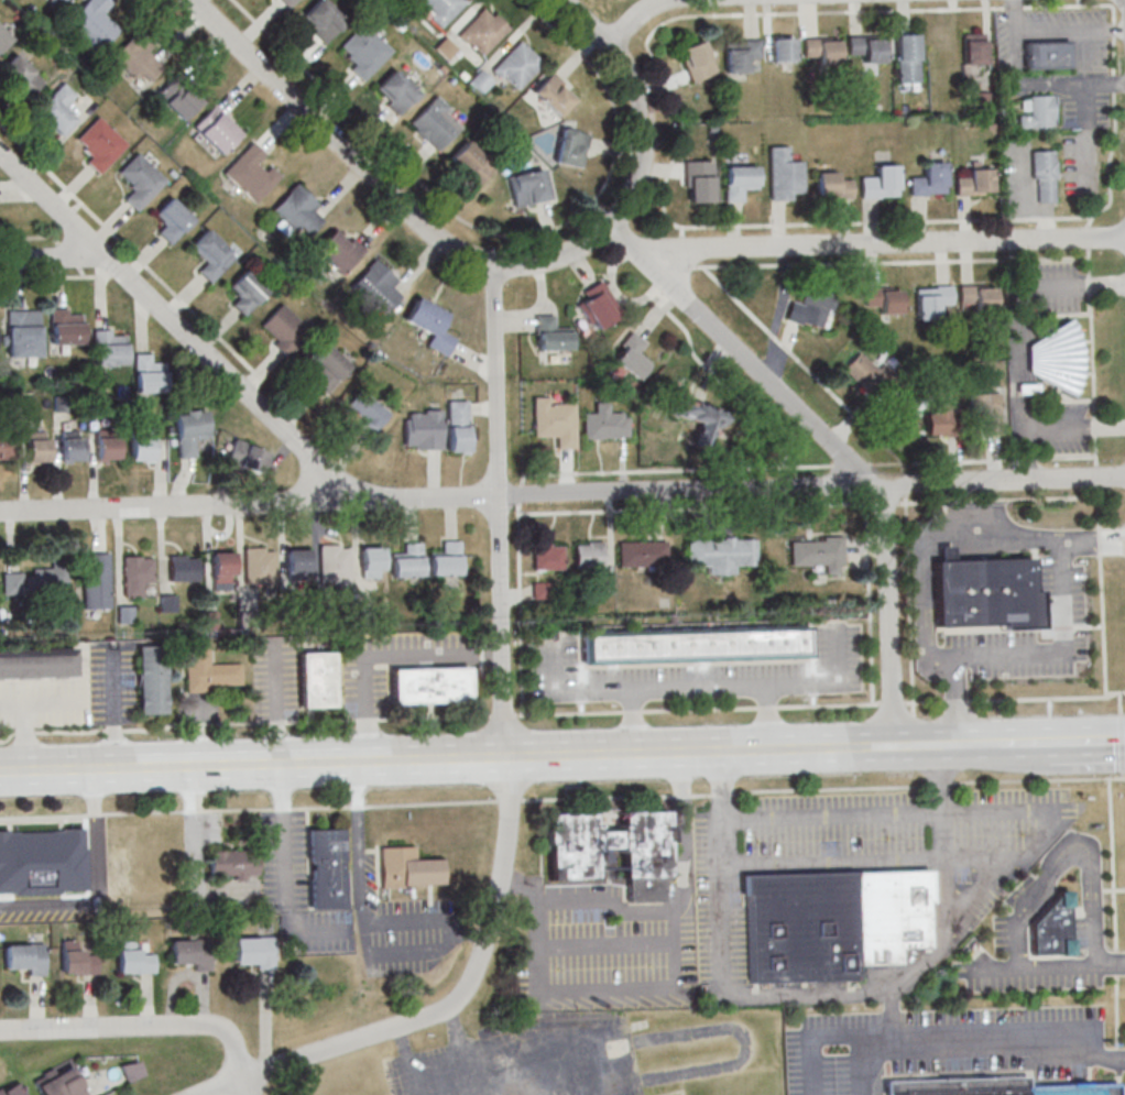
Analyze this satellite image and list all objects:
building: (62, 1)
building: (286, 2)
road: (1077, 4)
road: (1014, 7)
building: (440, 8)
road: (1013, 15)
road: (636, 17)
building: (321, 19)
building: (91, 24)
road: (1070, 29)
road: (1114, 29)
road: (555, 30)
building: (484, 33)
building: (3, 40)
building: (784, 48)
building: (865, 48)
building: (940, 48)
building: (973, 48)
building: (363, 50)
building: (821, 51)
building: (1047, 54)
road: (1114, 54)
building: (742, 55)
building: (907, 58)
building: (134, 59)
building: (698, 61)
building: (517, 66)
building: (20, 77)
building: (481, 80)
road: (1114, 81)
road: (1042, 85)
building: (395, 94)
building: (177, 96)
building: (555, 96)
road: (642, 103)
building: (55, 109)
building: (1036, 111)
road: (350, 114)
building: (434, 122)
building: (216, 130)
road: (1085, 136)
building: (101, 143)
building: (572, 147)
road: (670, 163)
road: (1108, 164)
building: (468, 166)
building: (784, 173)
building: (250, 174)
building: (1044, 176)
building: (139, 179)
building: (929, 179)
building: (699, 180)
building: (740, 182)
building: (881, 183)
building: (975, 183)
road: (381, 184)
building: (832, 185)
building: (528, 187)
building: (299, 208)
building: (171, 220)
road: (1089, 236)
road: (884, 243)
building: (338, 251)
building: (210, 254)
road: (52, 258)
road: (892, 261)
building: (373, 288)
building: (245, 292)
building: (976, 297)
building: (884, 299)
building: (931, 300)
building: (599, 305)
building: (811, 308)
building: (430, 325)
road: (1018, 325)
building: (64, 327)
road: (178, 328)
building: (283, 329)
building: (22, 333)
building: (551, 333)
building: (107, 348)
building: (1059, 354)
building: (631, 355)
road: (1092, 355)
road: (802, 363)
building: (325, 368)
building: (148, 374)
building: (866, 374)
building: (368, 410)
building: (985, 414)
building: (700, 419)
building: (936, 419)
building: (555, 421)
building: (605, 423)
building: (457, 425)
road: (1072, 427)
building: (423, 429)
building: (189, 431)
building: (7, 447)
building: (37, 447)
building: (72, 447)
building: (107, 448)
building: (142, 449)
road: (839, 451)
building: (247, 457)
road: (984, 459)
road: (854, 464)
road: (1023, 473)
road: (1097, 475)
road: (562, 493)
road: (1002, 500)
road: (1097, 512)
road: (532, 513)
road: (958, 536)
road: (1099, 541)
road: (1094, 548)
building: (720, 551)
building: (641, 552)
building: (817, 552)
building: (588, 554)
building: (547, 557)
building: (446, 559)
building: (407, 560)
building: (371, 561)
building: (296, 563)
building: (334, 565)
building: (259, 566)
building: (183, 568)
building: (222, 570)
building: (134, 574)
building: (48, 580)
building: (96, 580)
building: (12, 583)
building: (983, 592)
road: (909, 604)
building: (125, 614)
road: (1102, 625)
road: (501, 638)
building: (695, 645)
road: (1061, 653)
road: (380, 655)
building: (37, 664)
building: (210, 671)
building: (316, 679)
building: (152, 680)
building: (429, 685)
road: (1015, 699)
road: (955, 701)
road: (1119, 703)
road: (275, 707)
road: (437, 716)
road: (1091, 741)
road: (1029, 744)
road: (975, 745)
road: (1122, 745)
road: (474, 759)
road: (1036, 780)
road: (940, 784)
road: (831, 788)
road: (721, 792)
road: (356, 804)
road: (886, 815)
road: (97, 826)
road: (681, 832)
road: (196, 846)
building: (44, 862)
road: (874, 862)
building: (232, 863)
building: (571, 863)
road: (1112, 865)
building: (326, 868)
building: (406, 868)
road: (1004, 874)
road: (285, 877)
road: (1040, 880)
road: (941, 899)
road: (362, 906)
road: (54, 907)
building: (834, 920)
building: (1051, 927)
building: (254, 952)
building: (189, 953)
road: (728, 956)
building: (24, 957)
building: (134, 957)
building: (77, 959)
road: (1111, 963)
road: (1116, 964)
road: (654, 988)
road: (1117, 1012)
road: (138, 1028)
road: (953, 1030)
road: (350, 1043)
road: (456, 1051)
road: (984, 1053)
road: (1096, 1056)
road: (1119, 1060)
road: (406, 1061)
road: (863, 1064)
road: (812, 1065)
building: (133, 1071)
building: (61, 1082)
road: (1119, 1083)
road: (223, 1086)
road: (247, 1086)
building: (986, 1086)
building: (12, 1089)

